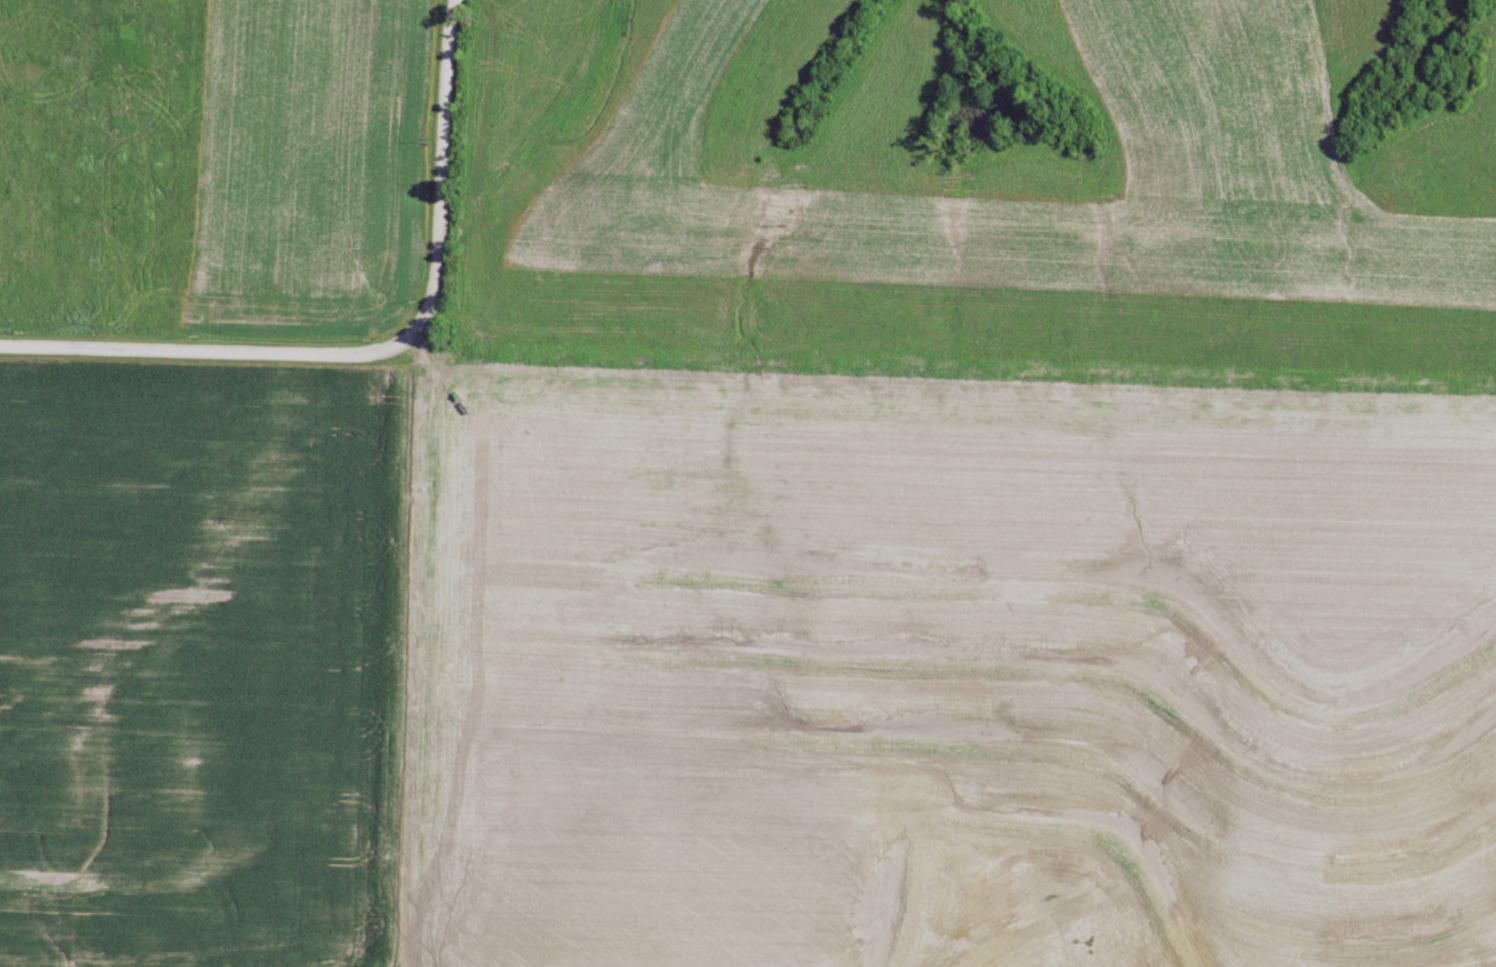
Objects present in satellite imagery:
road: (448, 0)
road: (378, 350)

